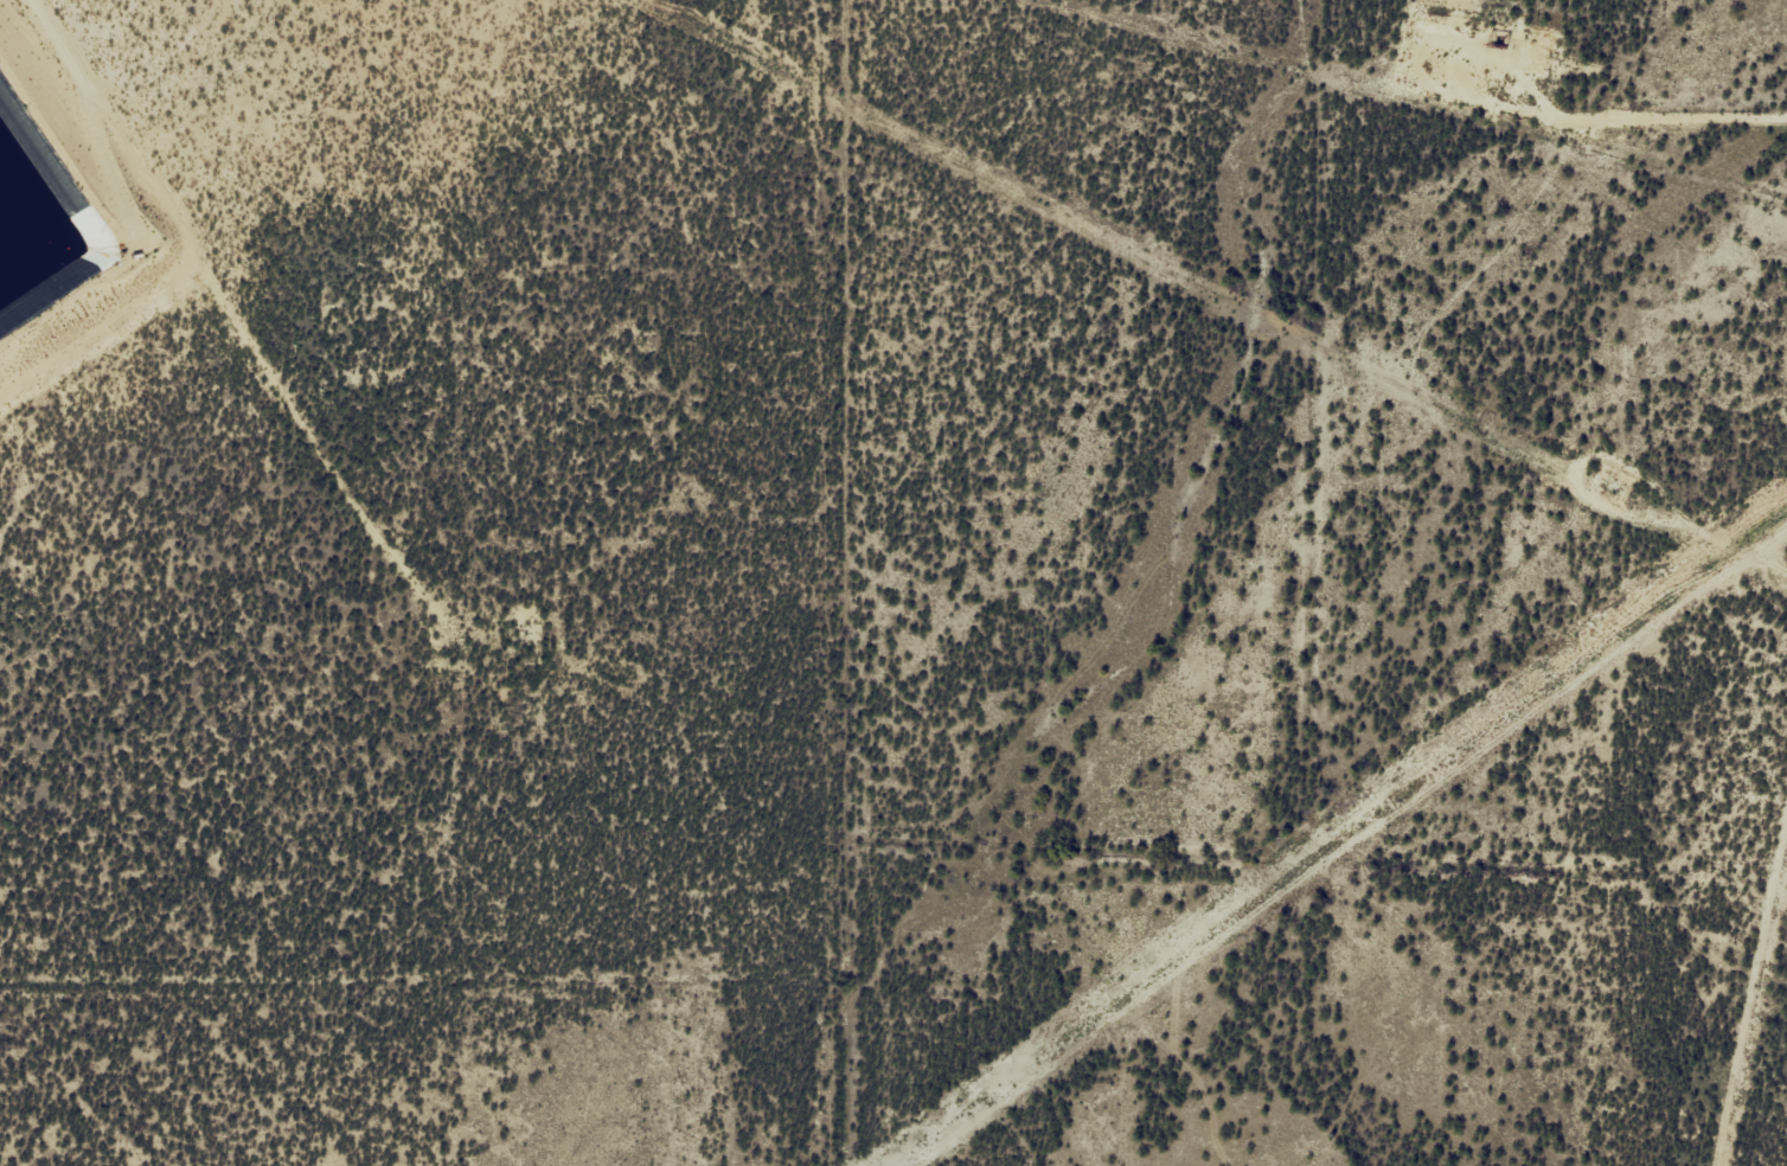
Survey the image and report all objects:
road: (1743, 630)

